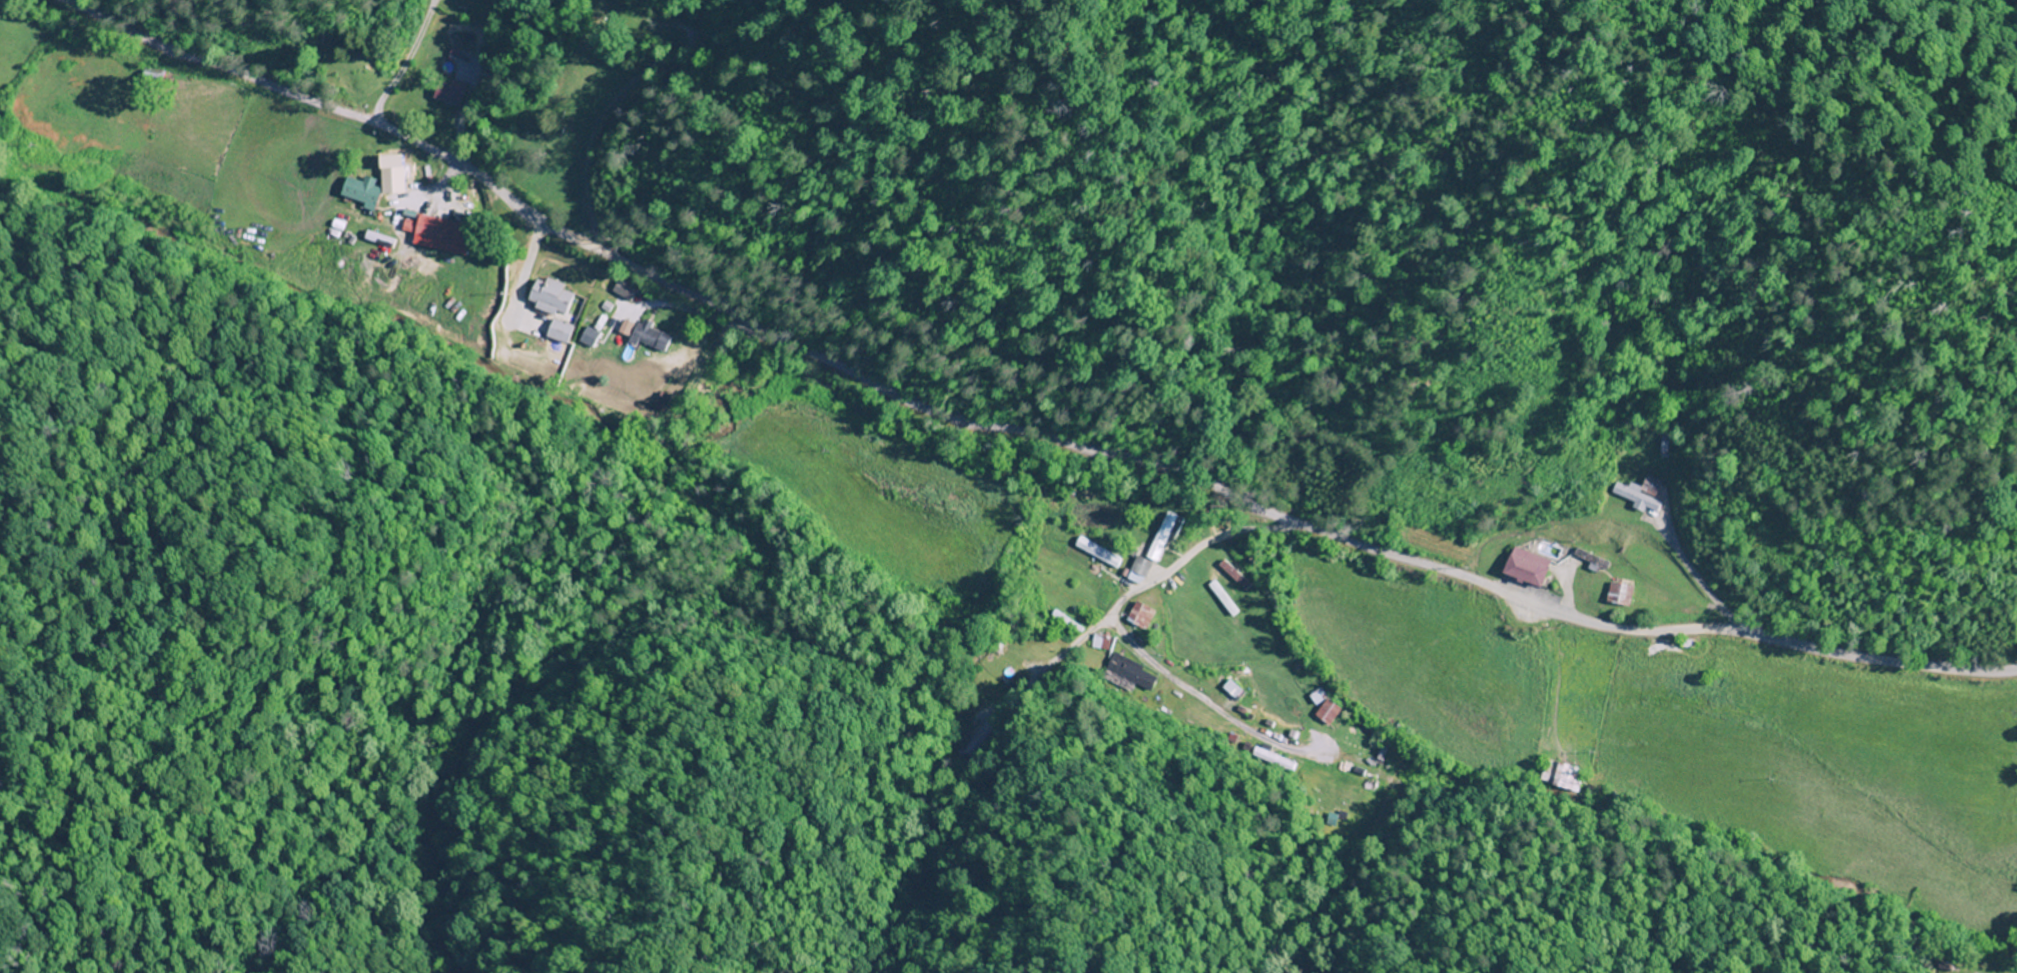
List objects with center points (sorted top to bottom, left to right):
building: (487, 0)
building: (456, 37)
building: (157, 77)
building: (451, 93)
road: (577, 145)
building: (365, 191)
building: (438, 233)
building: (617, 291)
building: (546, 295)
building: (639, 335)
road: (995, 431)
building: (1660, 446)
building: (1634, 493)
building: (1520, 568)
building: (1137, 571)
building: (1615, 595)
building: (1138, 616)
road: (1160, 617)
building: (1097, 642)
road: (1140, 648)

